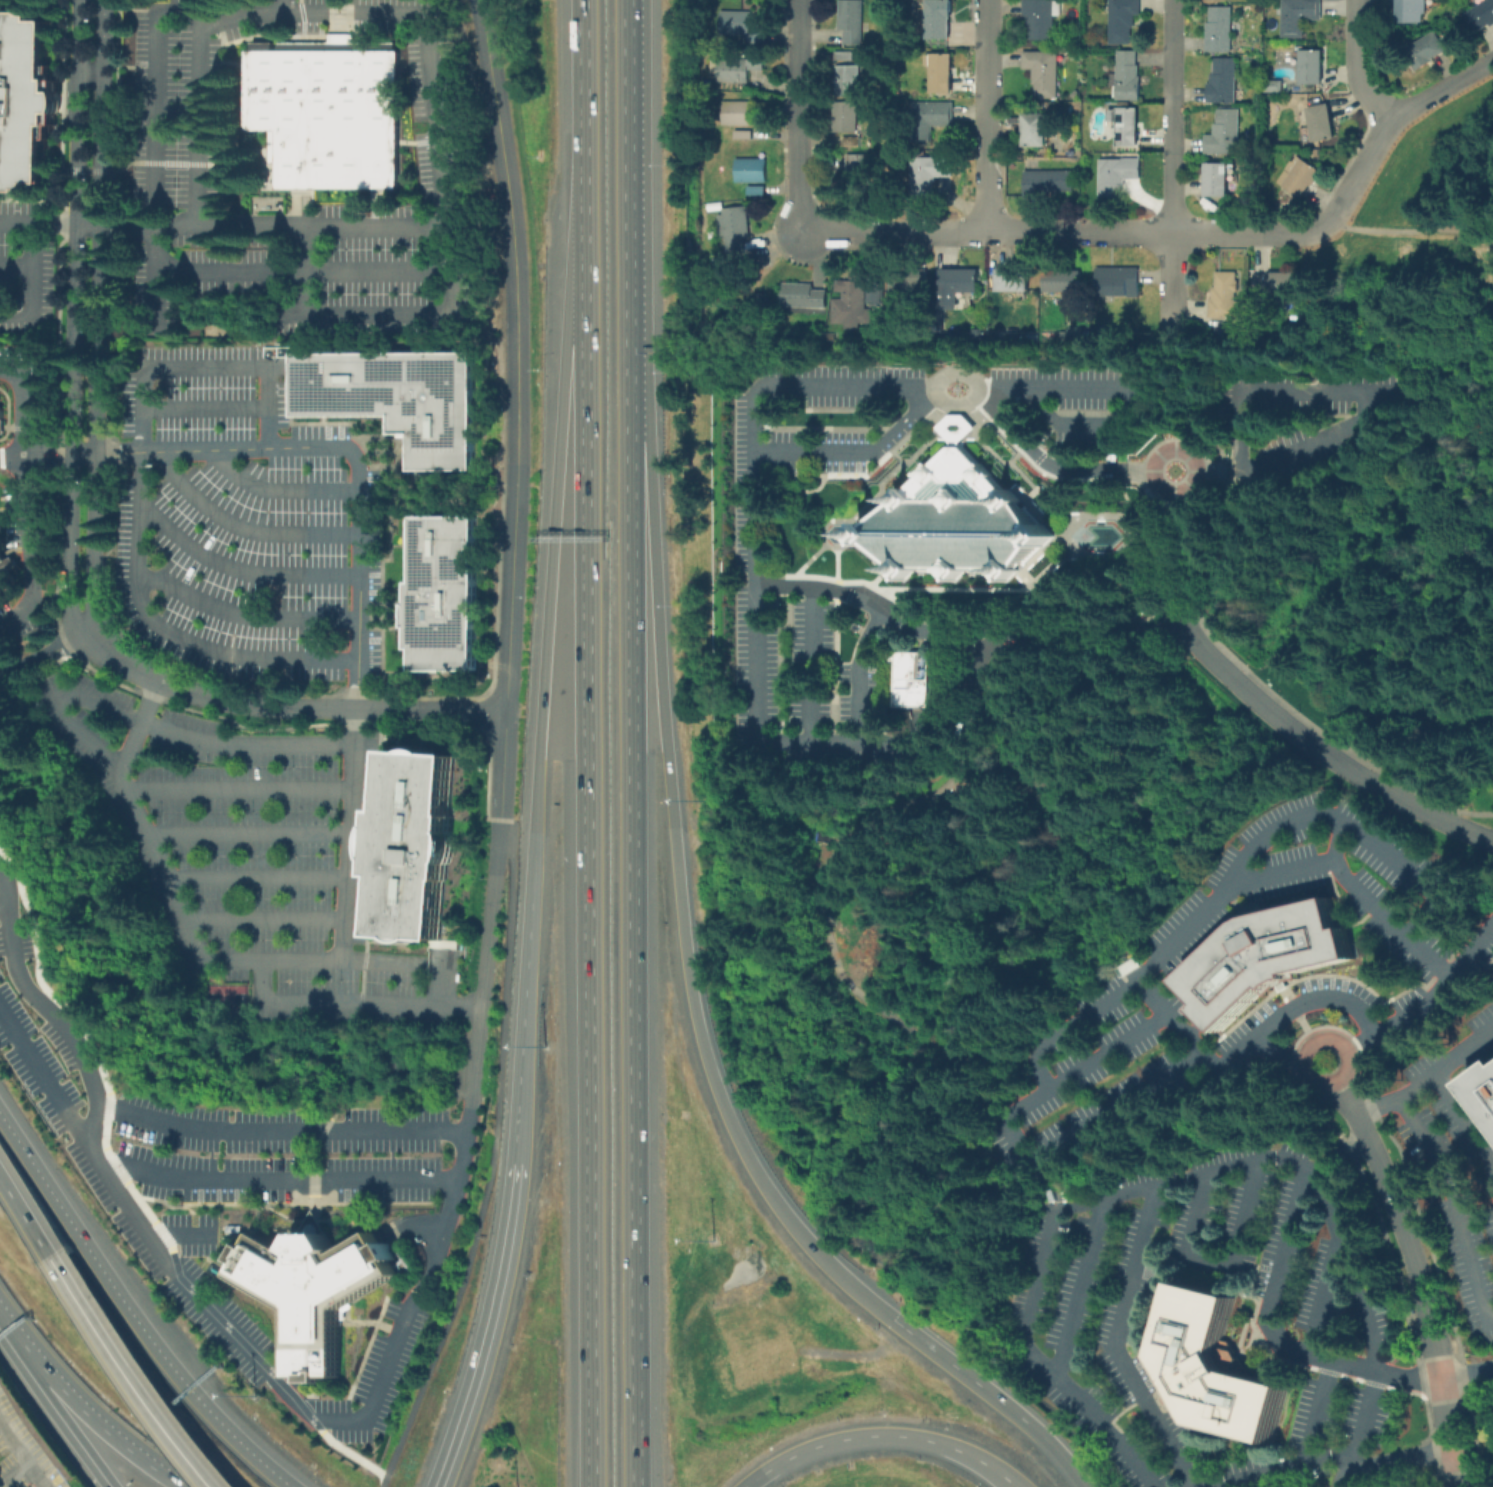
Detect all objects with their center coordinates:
road: (280, 4)
building: (1416, 11)
building: (1483, 14)
building: (1301, 16)
building: (1042, 17)
building: (942, 18)
building: (1123, 19)
building: (852, 20)
building: (742, 25)
road: (103, 28)
building: (1221, 29)
building: (1429, 50)
building: (845, 55)
building: (1313, 65)
road: (1356, 66)
building: (739, 67)
building: (943, 72)
building: (1045, 72)
road: (89, 74)
building: (1129, 76)
building: (849, 80)
building: (1225, 80)
building: (709, 84)
building: (1276, 85)
road: (1441, 88)
building: (899, 93)
building: (27, 103)
road: (435, 110)
building: (330, 113)
building: (741, 113)
road: (795, 114)
road: (985, 115)
road: (1174, 116)
building: (847, 117)
building: (932, 118)
building: (1322, 123)
building: (1128, 126)
building: (1038, 129)
road: (583, 131)
building: (1225, 132)
building: (745, 134)
building: (853, 141)
building: (1317, 152)
road: (628, 160)
road: (87, 169)
building: (859, 169)
road: (1358, 169)
building: (752, 170)
building: (929, 171)
building: (1118, 174)
building: (1302, 177)
building: (1219, 180)
building: (1047, 182)
building: (898, 183)
building: (839, 187)
road: (1460, 188)
building: (757, 190)
building: (736, 227)
road: (988, 231)
road: (1410, 231)
road: (1252, 232)
road: (512, 239)
park: (1416, 242)
road: (17, 264)
road: (34, 269)
road: (165, 273)
building: (1015, 280)
building: (1065, 282)
building: (1118, 282)
building: (1276, 283)
road: (1174, 285)
building: (959, 286)
building: (907, 287)
building: (876, 293)
building: (803, 295)
building: (1228, 297)
building: (853, 303)
road: (72, 314)
road: (354, 315)
building: (978, 333)
building: (1015, 333)
building: (1226, 333)
building: (1064, 335)
road: (95, 340)
road: (935, 388)
flagpole: (956, 388)
road: (983, 389)
road: (1123, 389)
road: (1361, 390)
road: (1197, 395)
building: (396, 397)
parking lot: (1081, 400)
road: (267, 405)
road: (205, 407)
road: (20, 414)
building: (0, 420)
parking lot: (1303, 421)
building: (944, 428)
road: (955, 436)
road: (46, 446)
road: (854, 450)
road: (77, 451)
road: (1156, 456)
building: (1115, 457)
road: (49, 461)
road: (1062, 467)
road: (1208, 470)
road: (1220, 471)
road: (280, 489)
road: (808, 489)
road: (1152, 497)
road: (1126, 498)
building: (954, 521)
parking lot: (746, 523)
road: (243, 527)
road: (138, 532)
fountain: (835, 533)
road: (28, 539)
road: (840, 545)
road: (1174, 560)
road: (239, 569)
building: (6, 572)
road: (358, 573)
road: (795, 573)
road: (878, 576)
road: (551, 582)
road: (1030, 583)
building: (441, 593)
road: (510, 595)
road: (758, 596)
road: (874, 608)
road: (243, 614)
road: (1085, 631)
road: (44, 653)
road: (49, 661)
road: (812, 663)
building: (913, 679)
road: (1260, 684)
road: (968, 699)
road: (282, 706)
road: (139, 724)
road: (1326, 752)
road: (504, 763)
road: (119, 777)
road: (238, 787)
road: (1358, 828)
road: (247, 831)
building: (413, 844)
road: (674, 853)
road: (590, 874)
road: (256, 875)
road: (2, 899)
road: (635, 904)
road: (1374, 906)
road: (264, 916)
road: (816, 939)
road: (1159, 958)
building: (1273, 958)
building: (1130, 967)
road: (38, 979)
road: (442, 980)
park: (225, 996)
road: (1431, 998)
road: (350, 999)
road: (524, 1041)
road: (1248, 1045)
road: (1306, 1046)
road: (1276, 1052)
road: (1428, 1075)
road: (89, 1078)
road: (45, 1082)
building: (1483, 1090)
road: (107, 1106)
road: (1465, 1120)
road: (278, 1130)
road: (104, 1133)
road: (1018, 1141)
road: (461, 1153)
road: (490, 1160)
road: (114, 1164)
road: (311, 1168)
road: (279, 1178)
parking lot: (218, 1179)
road: (1166, 1181)
road: (139, 1201)
road: (326, 1202)
road: (220, 1203)
road: (1455, 1204)
road: (187, 1209)
road: (26, 1214)
road: (312, 1219)
road: (328, 1220)
road: (192, 1223)
road: (161, 1233)
road: (182, 1234)
road: (171, 1248)
road: (1223, 1259)
road: (175, 1267)
road: (1418, 1269)
road: (1080, 1285)
building: (312, 1288)
road: (1322, 1295)
road: (130, 1313)
road: (349, 1321)
road: (383, 1326)
road: (1275, 1327)
road: (13, 1332)
road: (489, 1335)
road: (1116, 1344)
road: (366, 1346)
road: (244, 1347)
building: (1224, 1370)
road: (132, 1372)
road: (994, 1396)
road: (1317, 1409)
road: (62, 1422)
road: (315, 1423)
road: (102, 1424)
road: (882, 1437)
road: (16, 1439)
road: (351, 1455)
road: (1400, 1459)
road: (30, 1464)
road: (1275, 1468)
road: (1346, 1470)
road: (1456, 1480)
road: (1463, 1480)

